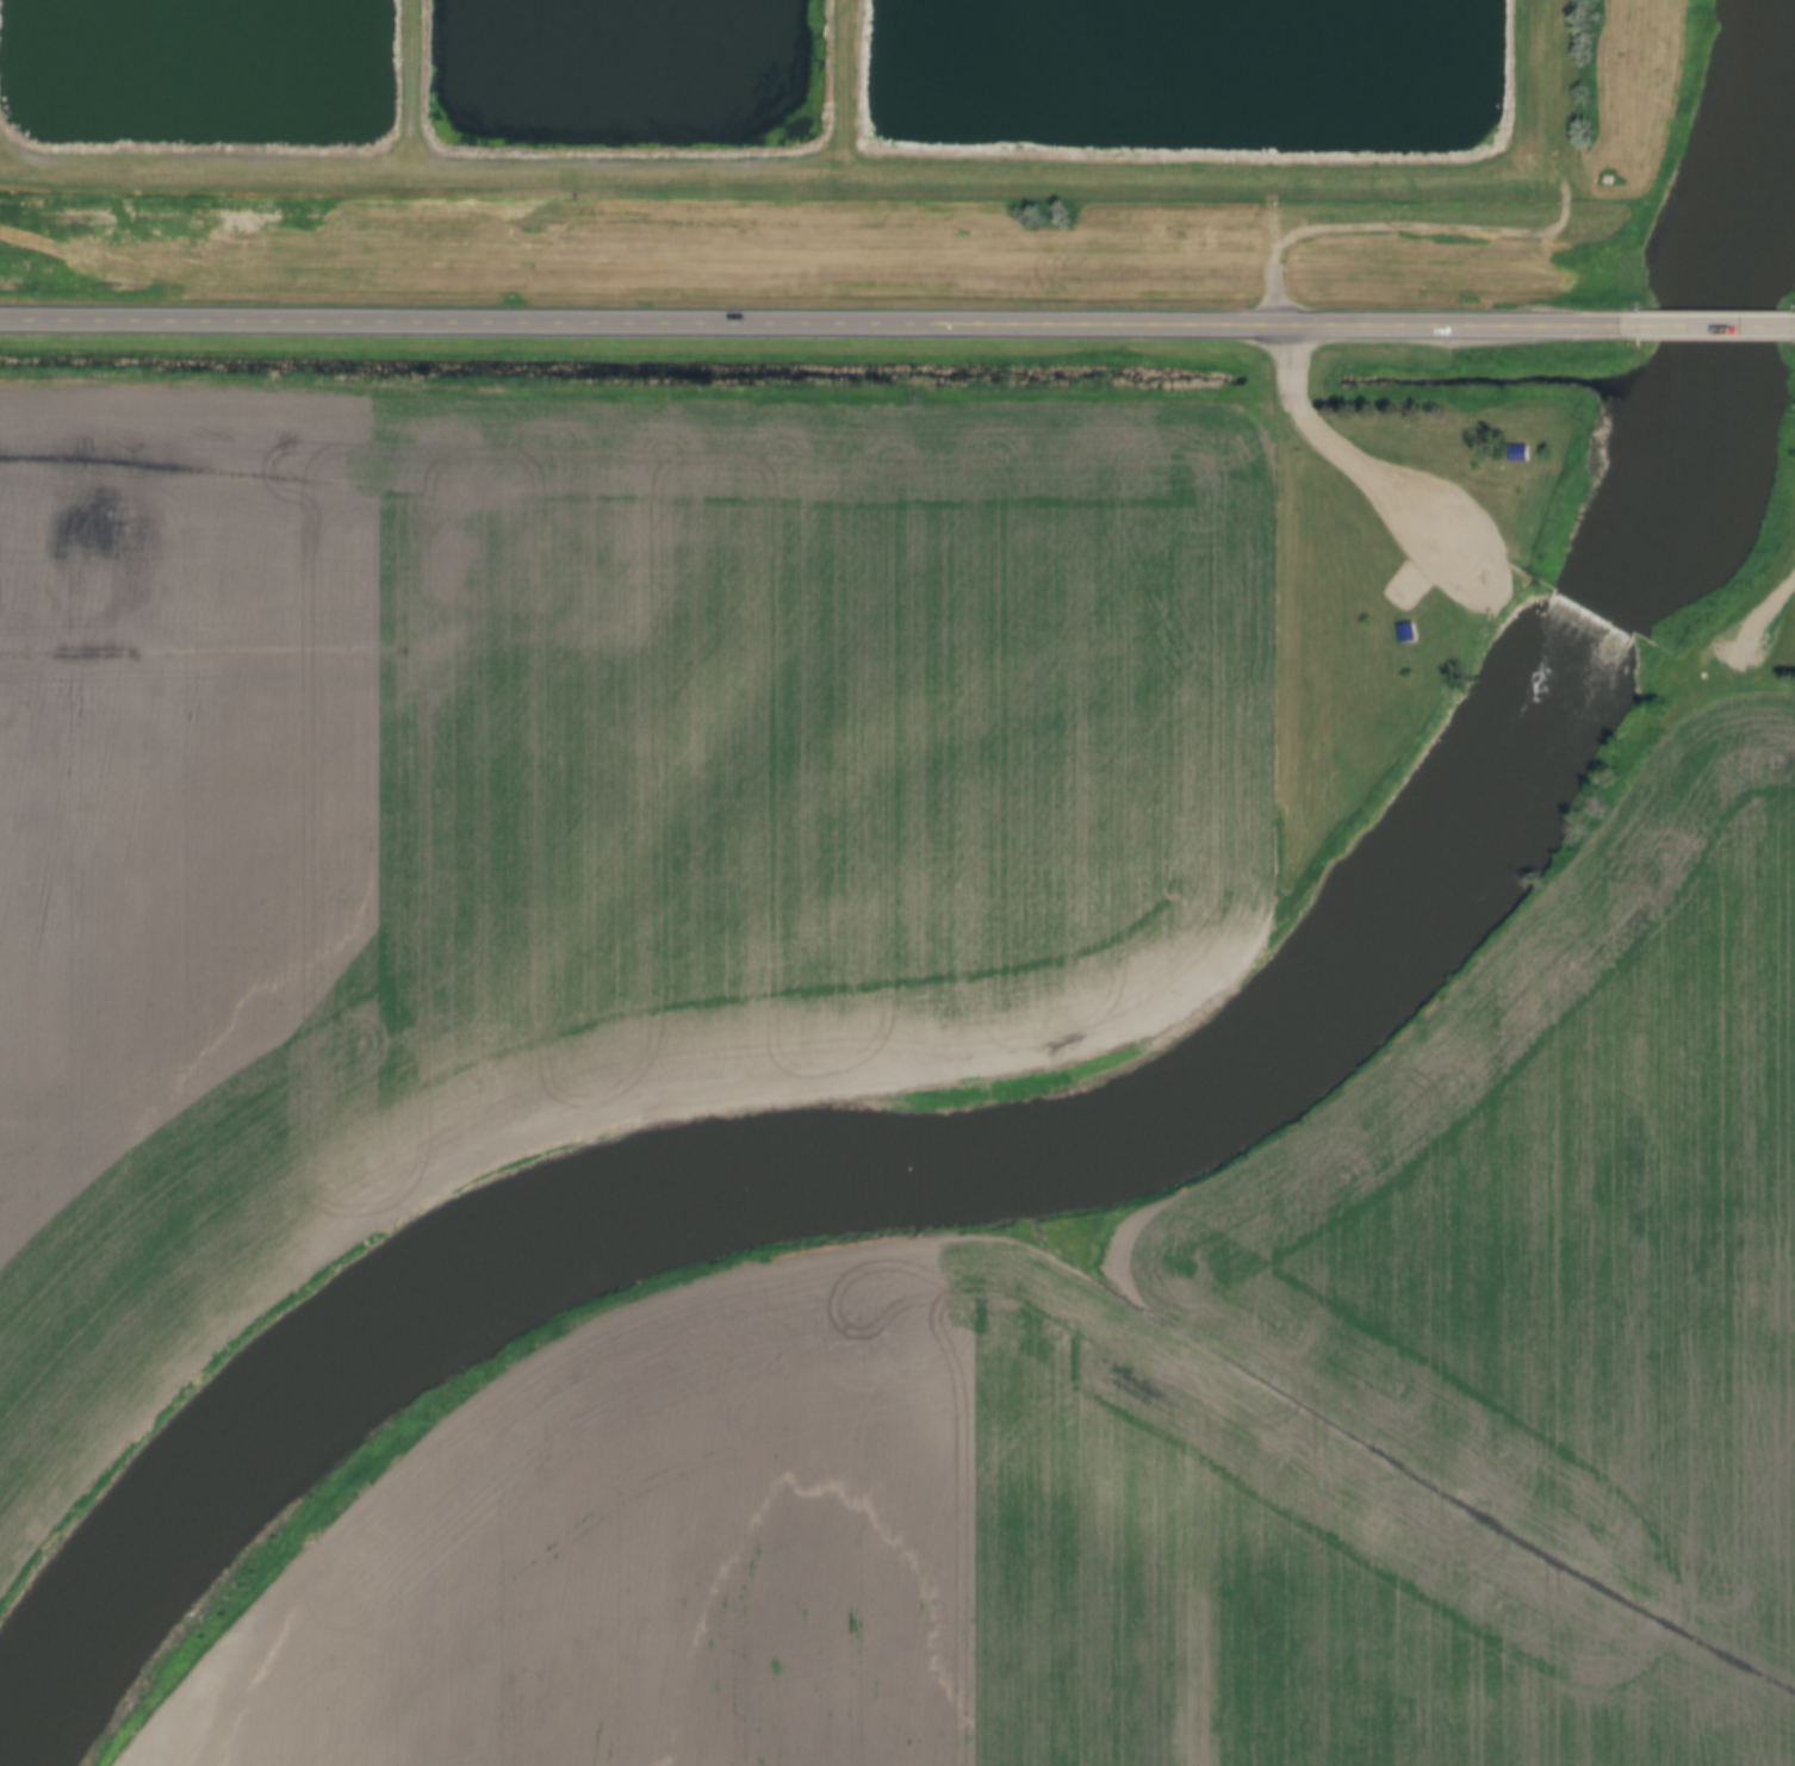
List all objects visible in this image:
road: (409, 83)
road: (852, 85)
river: (1790, 131)
road: (844, 169)
road: (1279, 248)
road: (253, 324)
road: (1067, 324)
road: (1703, 324)
road: (1788, 325)
building: (1526, 450)
road: (1362, 465)
parking lot: (1422, 534)
road: (1766, 603)
building: (1414, 629)
building: (1406, 633)
river: (1058, 1150)

